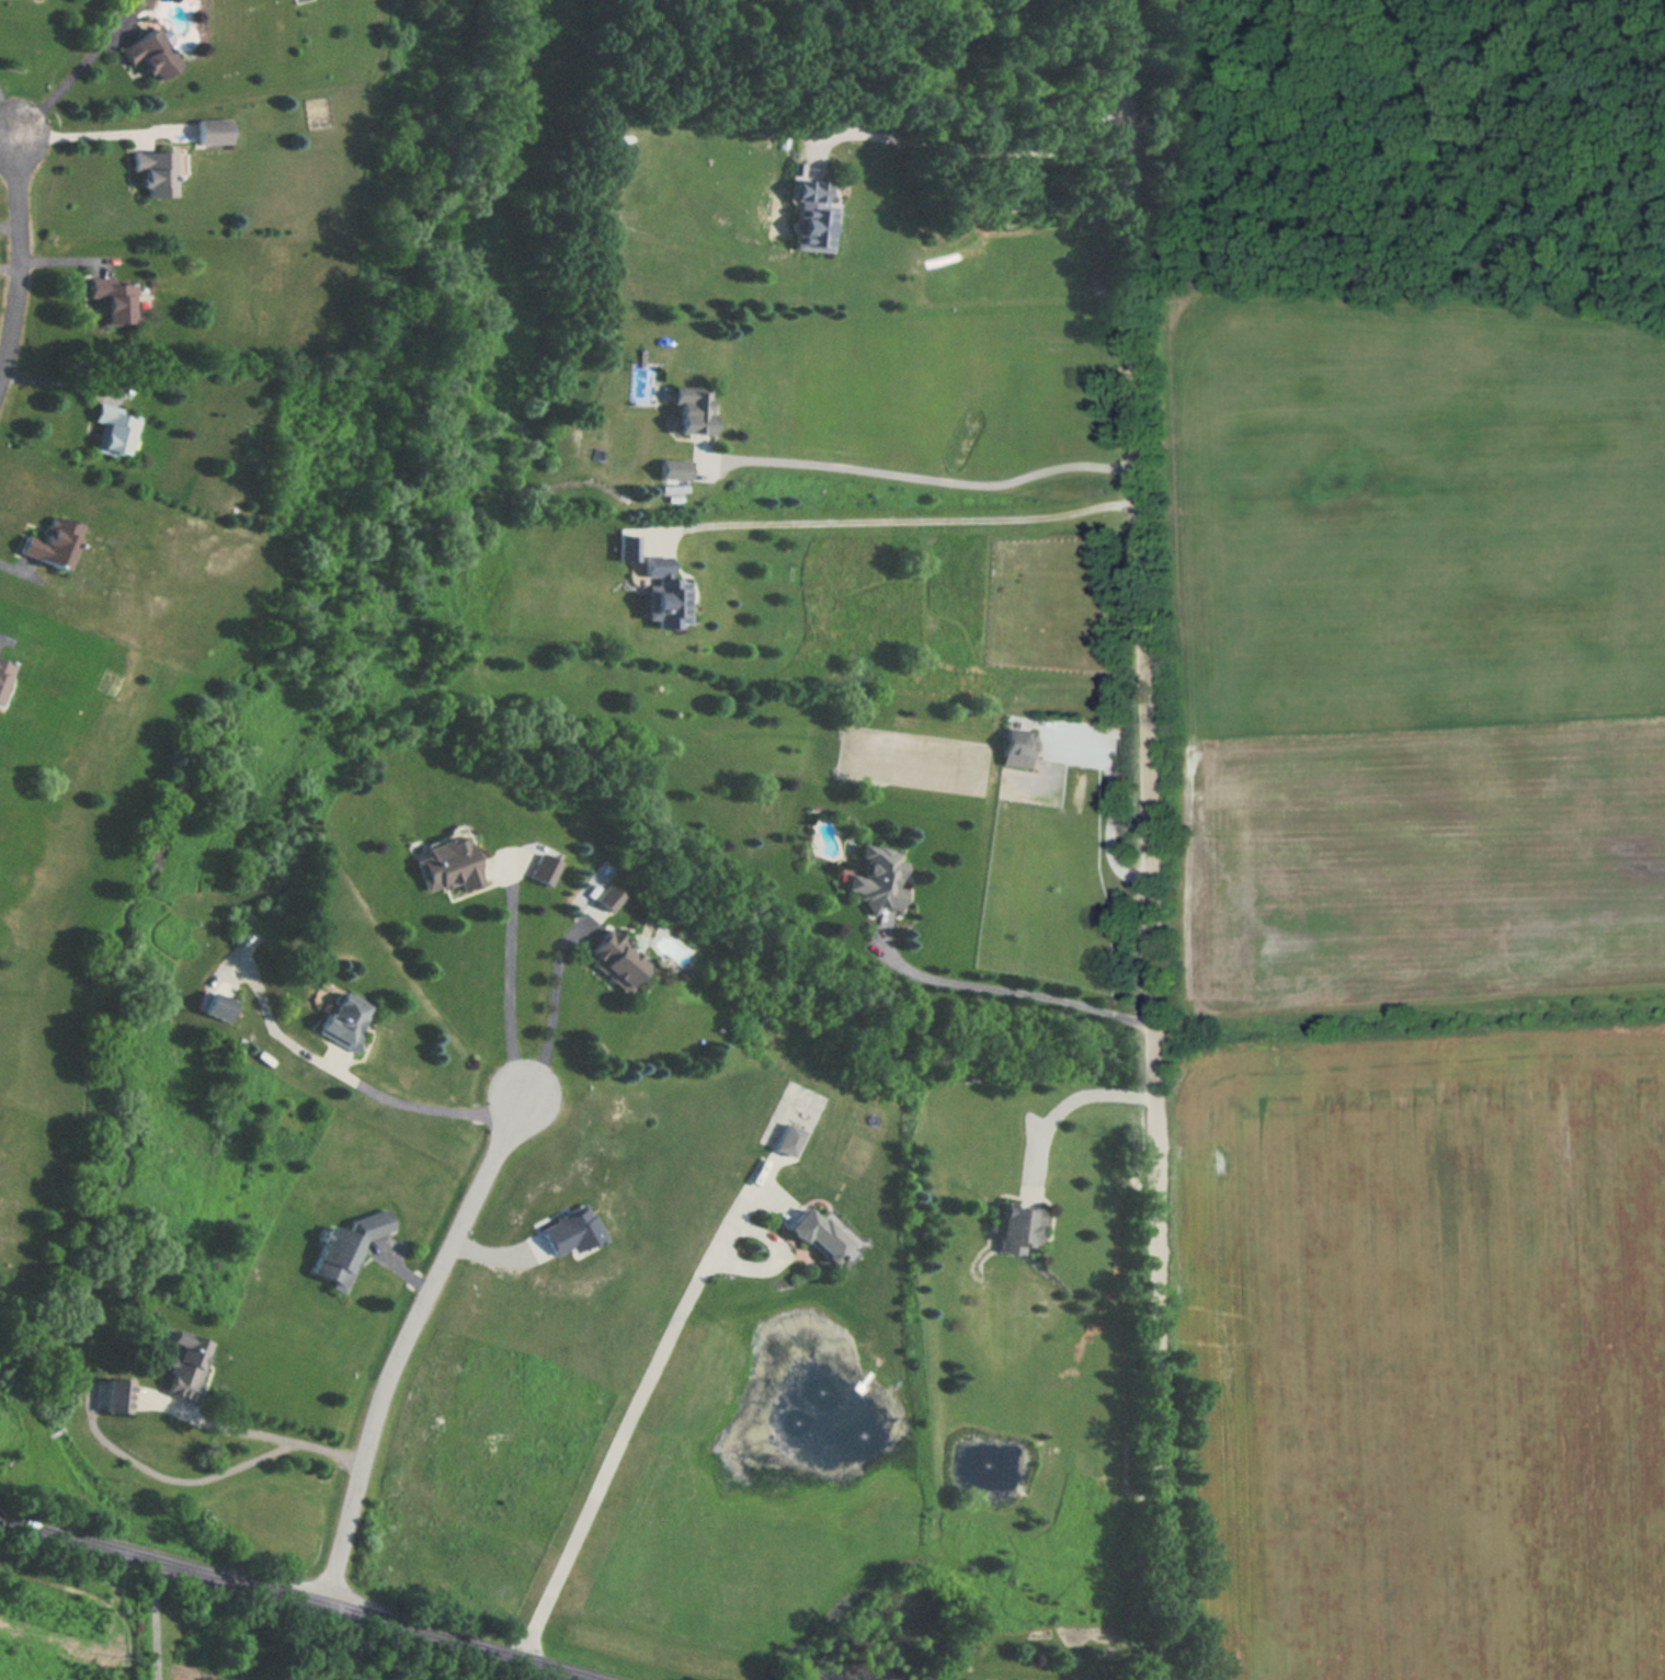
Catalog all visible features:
building: (152, 55)
road: (66, 83)
road: (7, 112)
road: (7, 125)
building: (214, 132)
road: (77, 135)
road: (989, 151)
building: (159, 172)
building: (813, 221)
road: (11, 224)
road: (22, 254)
road: (11, 264)
building: (116, 301)
road: (65, 380)
building: (695, 413)
building: (117, 431)
road: (925, 479)
road: (902, 522)
building: (52, 545)
building: (665, 596)
building: (4, 670)
building: (1019, 747)
road: (1110, 808)
road: (1151, 839)
building: (447, 862)
building: (543, 868)
building: (871, 880)
building: (607, 896)
building: (618, 960)
road: (1006, 988)
road: (510, 994)
building: (218, 1006)
building: (347, 1020)
road: (551, 1020)
road: (433, 1108)
road: (1063, 1108)
building: (1019, 1228)
building: (824, 1239)
building: (349, 1247)
road: (406, 1341)
building: (182, 1362)
building: (116, 1395)
road: (624, 1429)
road: (252, 1431)
road: (296, 1599)
road: (156, 1620)

